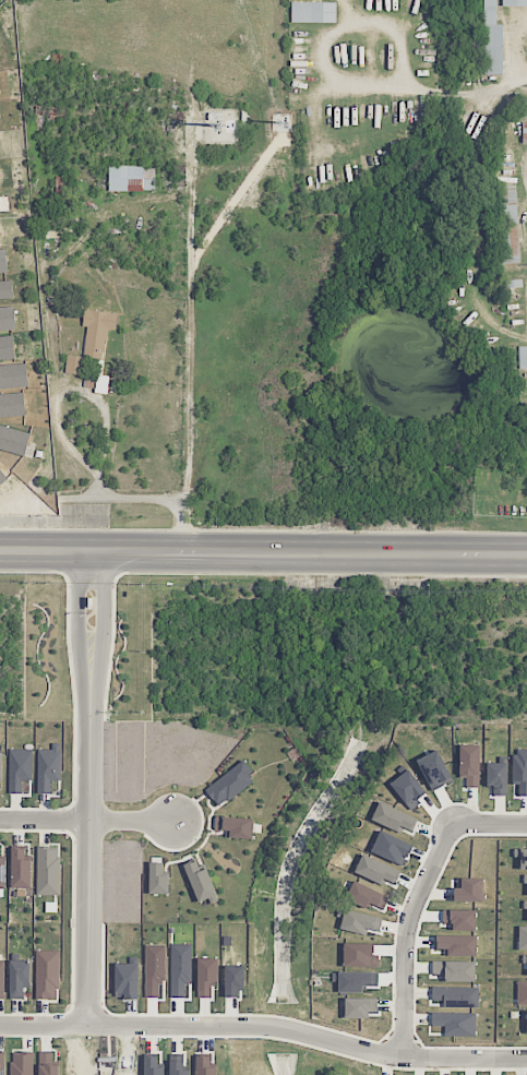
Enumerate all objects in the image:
building: (514, 2)
building: (313, 12)
building: (492, 40)
road: (517, 50)
road: (339, 81)
building: (525, 107)
building: (524, 131)
building: (131, 178)
building: (507, 224)
building: (51, 226)
building: (0, 239)
building: (3, 260)
building: (7, 289)
building: (8, 318)
building: (93, 342)
building: (7, 347)
road: (192, 356)
building: (523, 357)
building: (14, 375)
building: (100, 384)
building: (12, 404)
road: (105, 417)
building: (13, 439)
building: (2, 477)
road: (263, 554)
building: (469, 765)
building: (0, 767)
building: (48, 767)
building: (20, 768)
building: (434, 769)
building: (520, 771)
building: (496, 778)
building: (230, 784)
road: (88, 788)
building: (408, 788)
road: (85, 820)
road: (490, 823)
building: (235, 827)
building: (391, 848)
building: (21, 869)
building: (48, 870)
building: (376, 870)
building: (2, 872)
building: (201, 882)
building: (469, 891)
building: (366, 896)
building: (459, 919)
building: (359, 922)
road: (404, 935)
building: (456, 945)
building: (181, 968)
building: (455, 970)
building: (46, 975)
building: (19, 978)
building: (2, 979)
building: (127, 980)
building: (455, 996)
building: (360, 1007)
building: (455, 1023)
road: (265, 1024)
building: (2, 1064)
building: (22, 1064)
building: (47, 1064)
building: (154, 1065)
building: (205, 1066)
building: (179, 1067)

